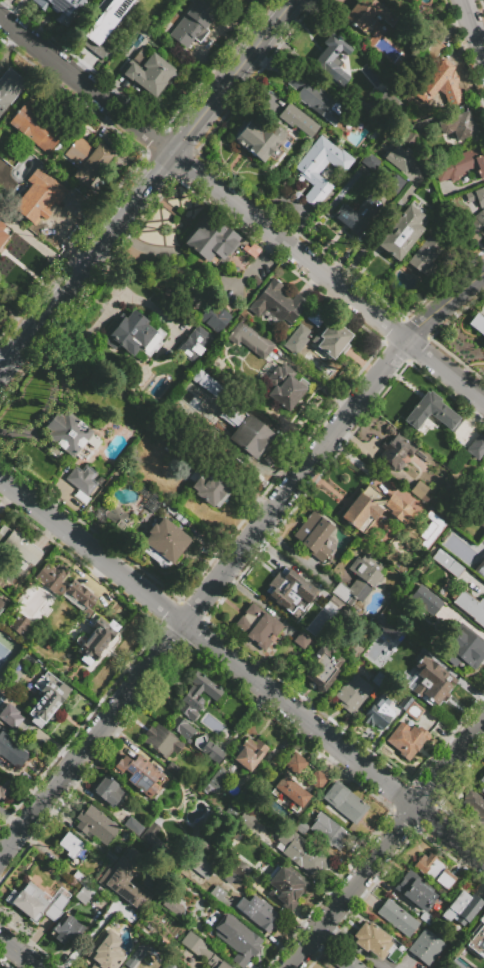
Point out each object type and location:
building: (411, 0)
building: (404, 1)
building: (407, 1)
building: (61, 8)
building: (365, 13)
building: (194, 22)
building: (104, 26)
road: (468, 37)
building: (432, 56)
building: (331, 59)
building: (149, 73)
building: (440, 85)
building: (9, 88)
building: (315, 98)
building: (378, 120)
building: (298, 122)
building: (457, 125)
building: (34, 128)
building: (255, 137)
building: (411, 139)
building: (87, 159)
building: (400, 159)
building: (369, 161)
building: (460, 165)
building: (320, 169)
building: (394, 182)
road: (147, 187)
building: (38, 196)
road: (241, 210)
building: (356, 214)
building: (481, 215)
road: (378, 229)
building: (2, 231)
building: (400, 233)
building: (211, 240)
building: (425, 258)
building: (255, 280)
building: (277, 303)
building: (217, 315)
building: (315, 318)
building: (477, 323)
building: (133, 337)
building: (248, 339)
building: (331, 339)
building: (194, 344)
building: (201, 377)
building: (288, 389)
building: (222, 398)
building: (432, 412)
building: (65, 433)
building: (250, 436)
building: (92, 442)
building: (476, 447)
building: (177, 452)
building: (395, 452)
building: (422, 455)
building: (142, 462)
building: (84, 479)
building: (211, 486)
building: (419, 491)
building: (372, 509)
building: (116, 518)
building: (480, 522)
building: (313, 535)
building: (165, 540)
building: (18, 547)
road: (283, 548)
building: (152, 555)
building: (482, 559)
road: (235, 560)
building: (446, 563)
building: (475, 567)
building: (359, 579)
building: (296, 596)
building: (424, 600)
building: (1, 605)
building: (470, 606)
building: (89, 614)
building: (0, 616)
building: (257, 625)
building: (20, 626)
building: (386, 633)
building: (301, 639)
building: (463, 649)
building: (355, 650)
park: (3, 654)
building: (322, 668)
road: (243, 671)
building: (378, 680)
building: (430, 684)
building: (351, 693)
building: (196, 695)
building: (45, 698)
building: (405, 703)
building: (414, 711)
building: (377, 713)
building: (10, 716)
building: (181, 728)
building: (406, 739)
building: (161, 741)
building: (207, 749)
building: (11, 752)
building: (248, 753)
building: (295, 762)
building: (174, 771)
building: (138, 773)
building: (317, 779)
building: (482, 779)
building: (215, 783)
building: (482, 789)
building: (2, 791)
building: (105, 791)
building: (291, 791)
building: (344, 802)
building: (474, 805)
building: (232, 813)
building: (168, 814)
building: (288, 818)
road: (11, 819)
building: (246, 821)
building: (200, 823)
building: (96, 824)
building: (132, 825)
building: (300, 827)
building: (328, 832)
building: (236, 835)
building: (151, 837)
road: (386, 845)
building: (72, 846)
building: (301, 853)
building: (109, 856)
building: (199, 866)
building: (239, 868)
building: (433, 870)
building: (231, 878)
building: (125, 880)
building: (287, 886)
building: (82, 888)
building: (414, 891)
building: (219, 896)
building: (26, 903)
building: (55, 907)
building: (461, 908)
building: (258, 912)
building: (397, 918)
building: (424, 918)
building: (67, 930)
road: (87, 935)
building: (236, 938)
building: (477, 939)
building: (375, 942)
road: (354, 946)
building: (426, 947)
building: (201, 950)
road: (19, 952)
building: (107, 953)
building: (131, 960)
building: (348, 961)
building: (167, 965)

